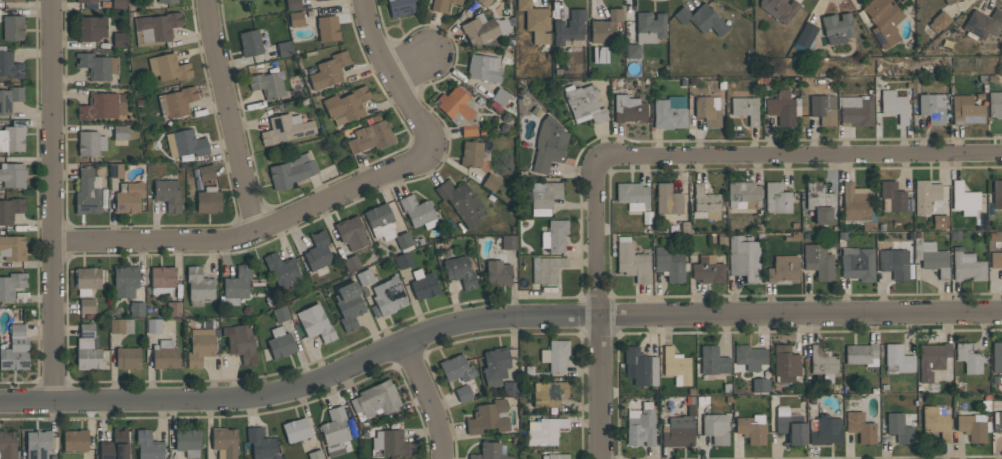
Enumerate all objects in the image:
building: (13, 0)
building: (239, 0)
building: (309, 0)
building: (317, 0)
building: (86, 1)
building: (167, 1)
building: (948, 1)
building: (484, 2)
building: (119, 4)
building: (292, 4)
building: (441, 5)
building: (400, 7)
building: (778, 9)
building: (701, 18)
building: (295, 19)
building: (883, 20)
building: (535, 21)
building: (939, 21)
building: (982, 23)
building: (605, 26)
building: (568, 27)
building: (649, 27)
building: (13, 28)
building: (91, 28)
building: (155, 28)
building: (327, 28)
building: (483, 28)
building: (837, 28)
building: (805, 34)
building: (119, 38)
building: (250, 43)
building: (284, 48)
building: (633, 51)
building: (9, 65)
building: (97, 65)
building: (168, 67)
road: (415, 68)
building: (484, 68)
building: (329, 70)
building: (268, 84)
building: (499, 96)
building: (10, 98)
building: (176, 101)
building: (584, 104)
building: (102, 105)
building: (346, 105)
building: (894, 105)
building: (995, 105)
building: (783, 107)
building: (932, 107)
building: (745, 108)
building: (823, 108)
building: (458, 109)
building: (628, 109)
building: (708, 110)
building: (966, 110)
building: (856, 111)
building: (669, 112)
road: (230, 115)
building: (285, 129)
building: (120, 134)
building: (371, 136)
building: (12, 138)
building: (90, 143)
building: (185, 143)
building: (548, 144)
building: (472, 153)
road: (800, 153)
building: (115, 170)
building: (205, 172)
building: (290, 173)
building: (12, 174)
building: (490, 182)
building: (87, 192)
building: (167, 194)
building: (742, 194)
building: (997, 194)
building: (632, 195)
building: (924, 195)
building: (542, 196)
building: (128, 197)
building: (892, 197)
building: (776, 198)
building: (667, 199)
building: (964, 199)
building: (208, 200)
road: (328, 200)
building: (460, 200)
road: (50, 202)
building: (819, 202)
building: (705, 203)
building: (855, 203)
building: (10, 210)
building: (418, 212)
building: (380, 221)
building: (939, 222)
building: (868, 226)
building: (351, 233)
building: (555, 235)
building: (404, 241)
building: (508, 241)
building: (12, 248)
building: (317, 252)
building: (931, 257)
building: (744, 258)
building: (403, 260)
building: (996, 260)
building: (632, 261)
building: (818, 261)
building: (351, 263)
building: (857, 263)
building: (895, 263)
building: (669, 264)
building: (966, 265)
building: (546, 269)
building: (708, 269)
building: (783, 269)
building: (282, 270)
building: (459, 271)
building: (497, 272)
building: (364, 277)
building: (87, 280)
building: (125, 281)
building: (162, 281)
building: (423, 284)
building: (11, 285)
building: (236, 285)
building: (198, 286)
building: (388, 296)
building: (86, 305)
building: (348, 305)
road: (599, 306)
building: (136, 308)
building: (173, 308)
building: (280, 313)
road: (493, 317)
building: (315, 323)
building: (121, 326)
building: (153, 326)
road: (507, 334)
building: (240, 343)
building: (280, 343)
building: (200, 346)
building: (88, 348)
building: (15, 350)
building: (861, 354)
building: (164, 355)
building: (555, 355)
building: (996, 356)
building: (749, 357)
building: (128, 358)
building: (898, 358)
building: (969, 358)
building: (931, 359)
building: (713, 361)
building: (822, 363)
building: (785, 364)
building: (495, 365)
building: (640, 366)
building: (676, 366)
building: (456, 368)
building: (760, 385)
building: (509, 389)
building: (463, 393)
building: (549, 393)
road: (425, 399)
building: (375, 400)
building: (691, 405)
road: (250, 414)
building: (488, 417)
building: (936, 421)
building: (997, 422)
building: (790, 425)
building: (640, 426)
building: (974, 426)
building: (860, 427)
building: (715, 428)
building: (751, 428)
building: (898, 428)
building: (295, 430)
building: (544, 430)
building: (824, 430)
building: (334, 431)
building: (678, 431)
building: (75, 440)
building: (188, 442)
building: (224, 442)
building: (392, 443)
building: (37, 444)
building: (261, 444)
building: (7, 445)
building: (114, 446)
building: (148, 446)
building: (490, 451)
building: (315, 454)
building: (555, 456)

